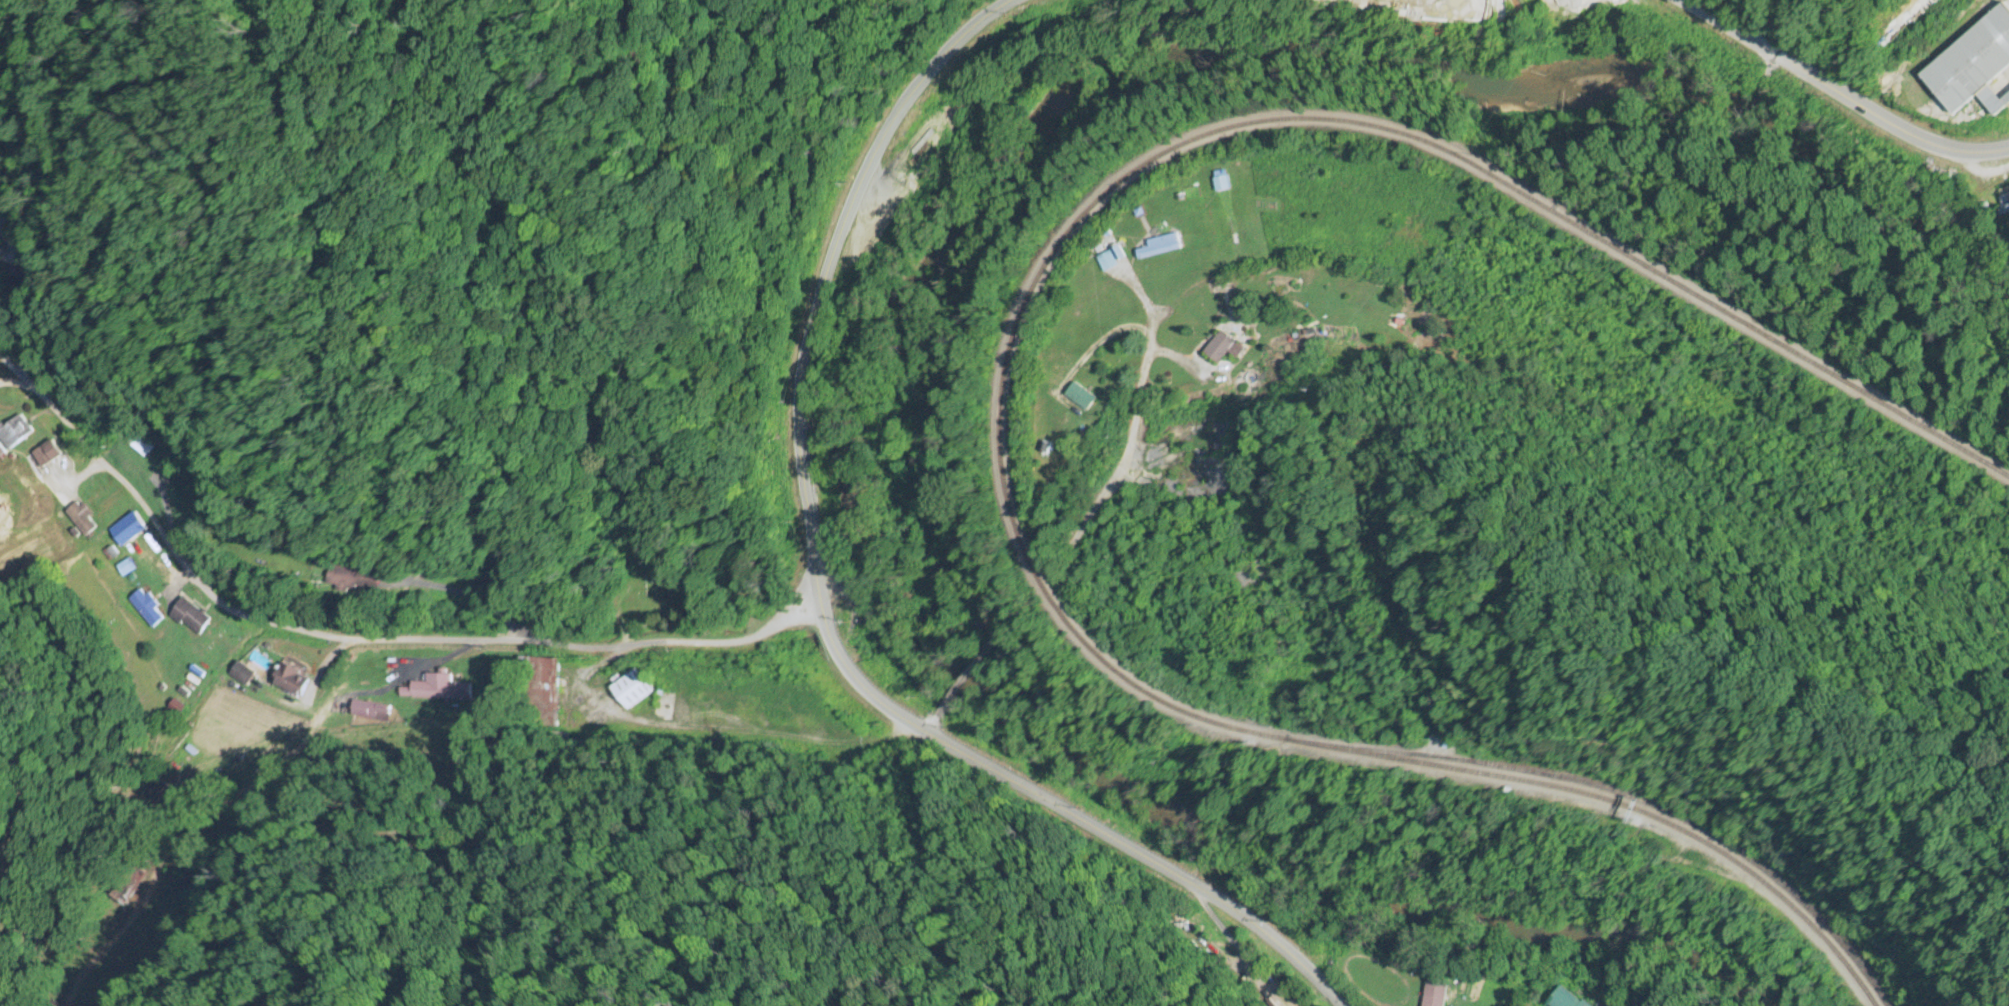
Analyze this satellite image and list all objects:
building: (1974, 66)
road: (1839, 92)
building: (5, 194)
building: (1157, 248)
building: (36, 273)
road: (1096, 338)
building: (1223, 349)
railway: (1006, 359)
road: (1139, 378)
building: (1080, 397)
building: (13, 433)
building: (45, 455)
road: (1110, 482)
building: (80, 520)
building: (360, 579)
road: (822, 601)
building: (142, 609)
building: (188, 618)
road: (997, 636)
road: (367, 639)
road: (965, 680)
building: (289, 682)
building: (436, 691)
building: (631, 691)
building: (365, 713)
road: (934, 719)
building: (1435, 995)
building: (1569, 1000)
building: (1607, 1005)

